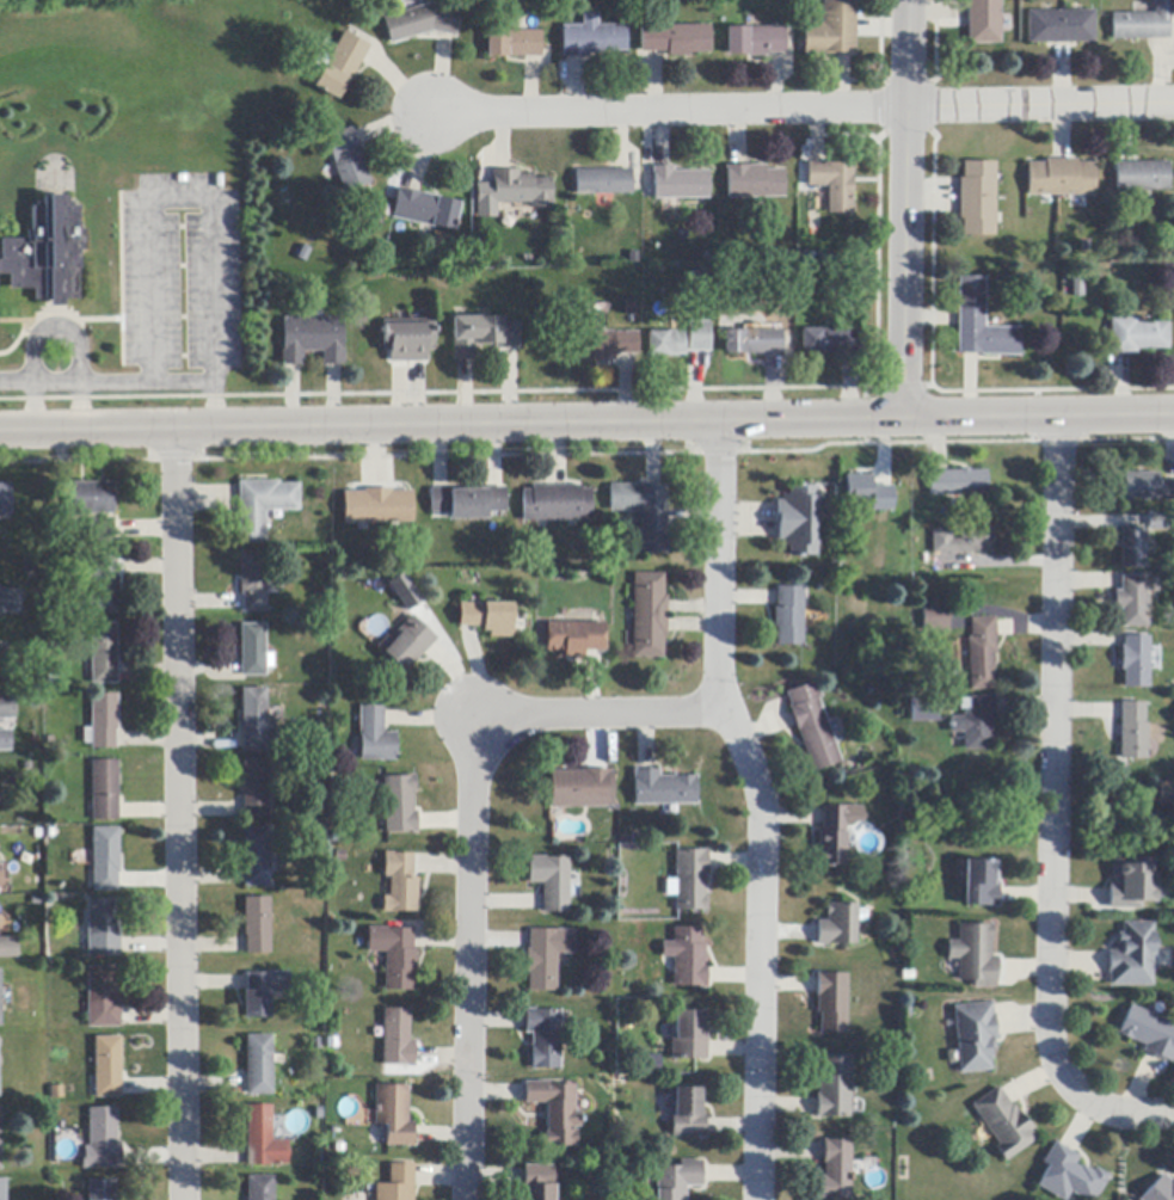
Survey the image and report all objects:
building: (983, 21)
building: (423, 23)
building: (1143, 23)
building: (1061, 27)
building: (832, 30)
building: (592, 38)
building: (676, 39)
building: (756, 41)
building: (515, 44)
building: (340, 64)
road: (1041, 106)
road: (669, 111)
building: (348, 160)
building: (1142, 177)
building: (1061, 178)
building: (604, 181)
building: (755, 181)
building: (680, 184)
building: (834, 184)
building: (521, 189)
building: (978, 198)
building: (425, 209)
road: (908, 209)
road: (150, 228)
building: (48, 253)
building: (1075, 287)
building: (982, 325)
building: (481, 336)
building: (699, 337)
building: (1137, 337)
building: (312, 340)
building: (407, 340)
building: (830, 340)
building: (754, 343)
building: (666, 344)
building: (608, 345)
road: (188, 386)
road: (35, 408)
road: (82, 408)
road: (586, 424)
building: (957, 484)
building: (1147, 487)
building: (860, 488)
building: (93, 499)
building: (5, 500)
building: (467, 503)
building: (555, 504)
building: (263, 506)
building: (377, 506)
building: (644, 513)
building: (797, 521)
building: (1157, 523)
building: (102, 530)
building: (961, 542)
building: (1132, 548)
building: (879, 559)
building: (253, 583)
building: (103, 585)
building: (10, 601)
building: (1132, 601)
building: (647, 616)
building: (788, 617)
building: (488, 619)
building: (934, 619)
building: (574, 638)
building: (408, 644)
building: (254, 652)
building: (981, 653)
building: (4, 654)
building: (103, 654)
building: (1135, 661)
building: (7, 707)
building: (923, 710)
building: (256, 721)
building: (103, 722)
building: (975, 722)
building: (812, 727)
building: (1132, 732)
building: (375, 736)
building: (5, 740)
building: (256, 789)
building: (579, 789)
building: (663, 789)
building: (105, 790)
building: (1166, 794)
building: (399, 805)
road: (762, 807)
road: (1053, 811)
road: (179, 814)
road: (468, 830)
building: (835, 833)
building: (257, 857)
building: (106, 860)
building: (690, 880)
building: (551, 881)
building: (400, 884)
building: (981, 884)
building: (1130, 884)
building: (840, 924)
building: (258, 925)
building: (103, 929)
building: (8, 946)
building: (395, 954)
building: (975, 955)
building: (547, 956)
building: (1132, 956)
building: (687, 958)
building: (264, 992)
building: (1, 998)
building: (104, 998)
building: (831, 1003)
building: (1149, 1034)
building: (689, 1036)
building: (975, 1036)
building: (545, 1038)
building: (398, 1039)
building: (259, 1066)
building: (110, 1067)
building: (834, 1089)
building: (555, 1112)
building: (394, 1114)
building: (688, 1114)
building: (1003, 1124)
building: (0, 1139)
building: (264, 1139)
building: (103, 1140)
building: (835, 1171)
building: (1069, 1176)
building: (678, 1180)
building: (539, 1182)
building: (398, 1184)
building: (262, 1188)
building: (4, 1189)
building: (103, 1190)
building: (1161, 1190)

